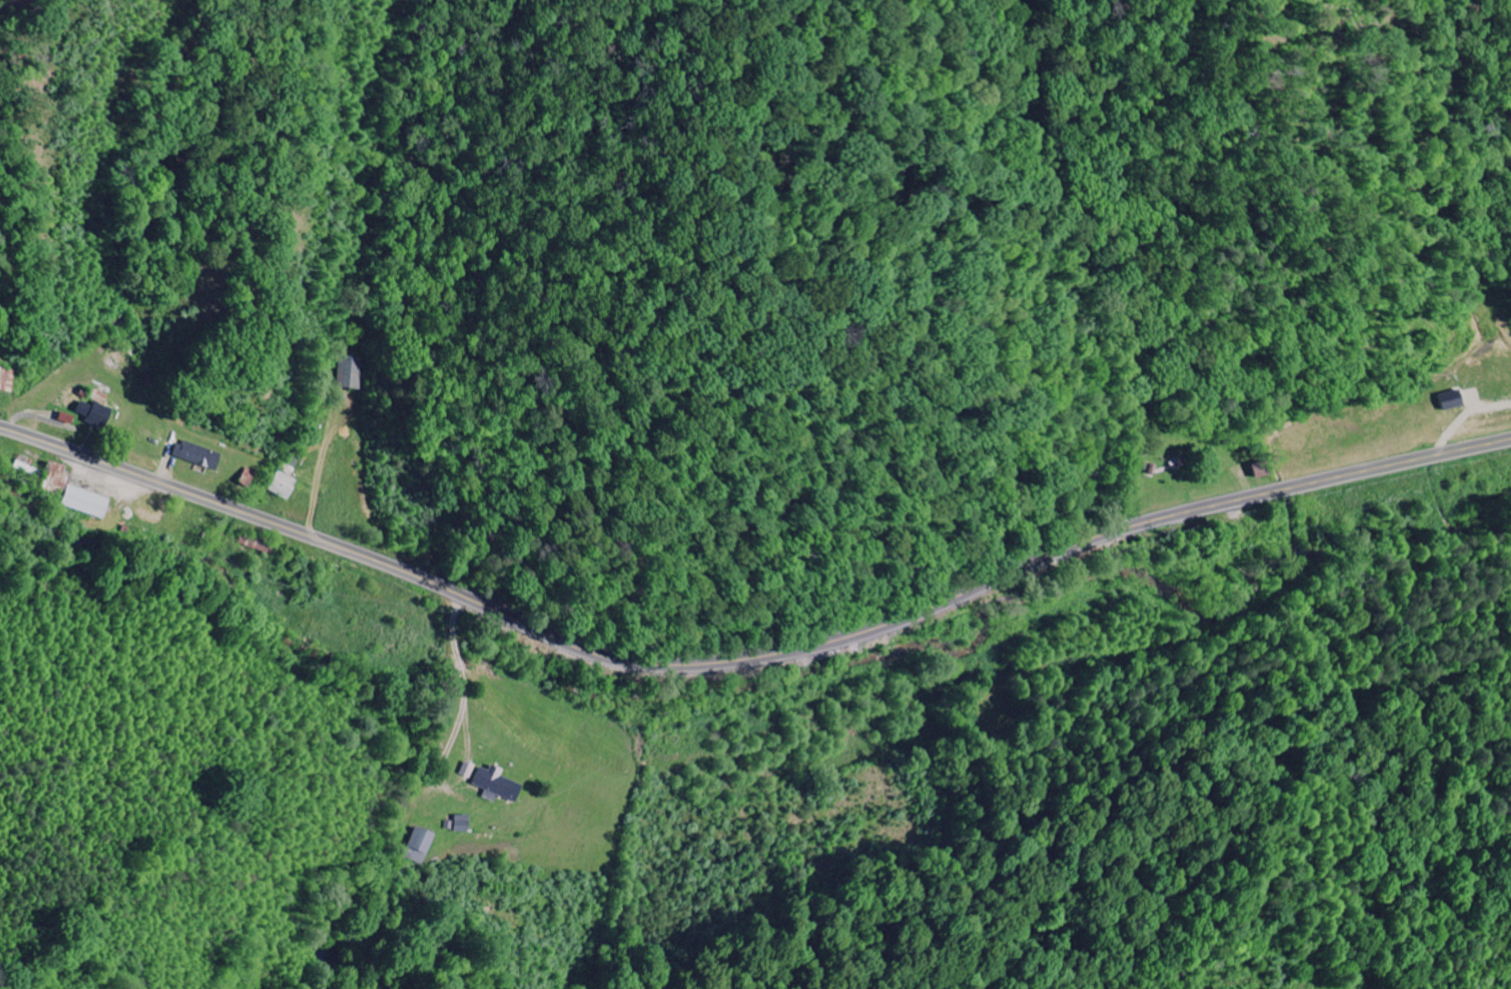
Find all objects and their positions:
building: (349, 373)
building: (1447, 401)
building: (97, 416)
building: (199, 457)
building: (285, 487)
building: (87, 503)
road: (750, 656)
park: (1001, 724)
building: (471, 771)
building: (501, 785)
building: (425, 842)

